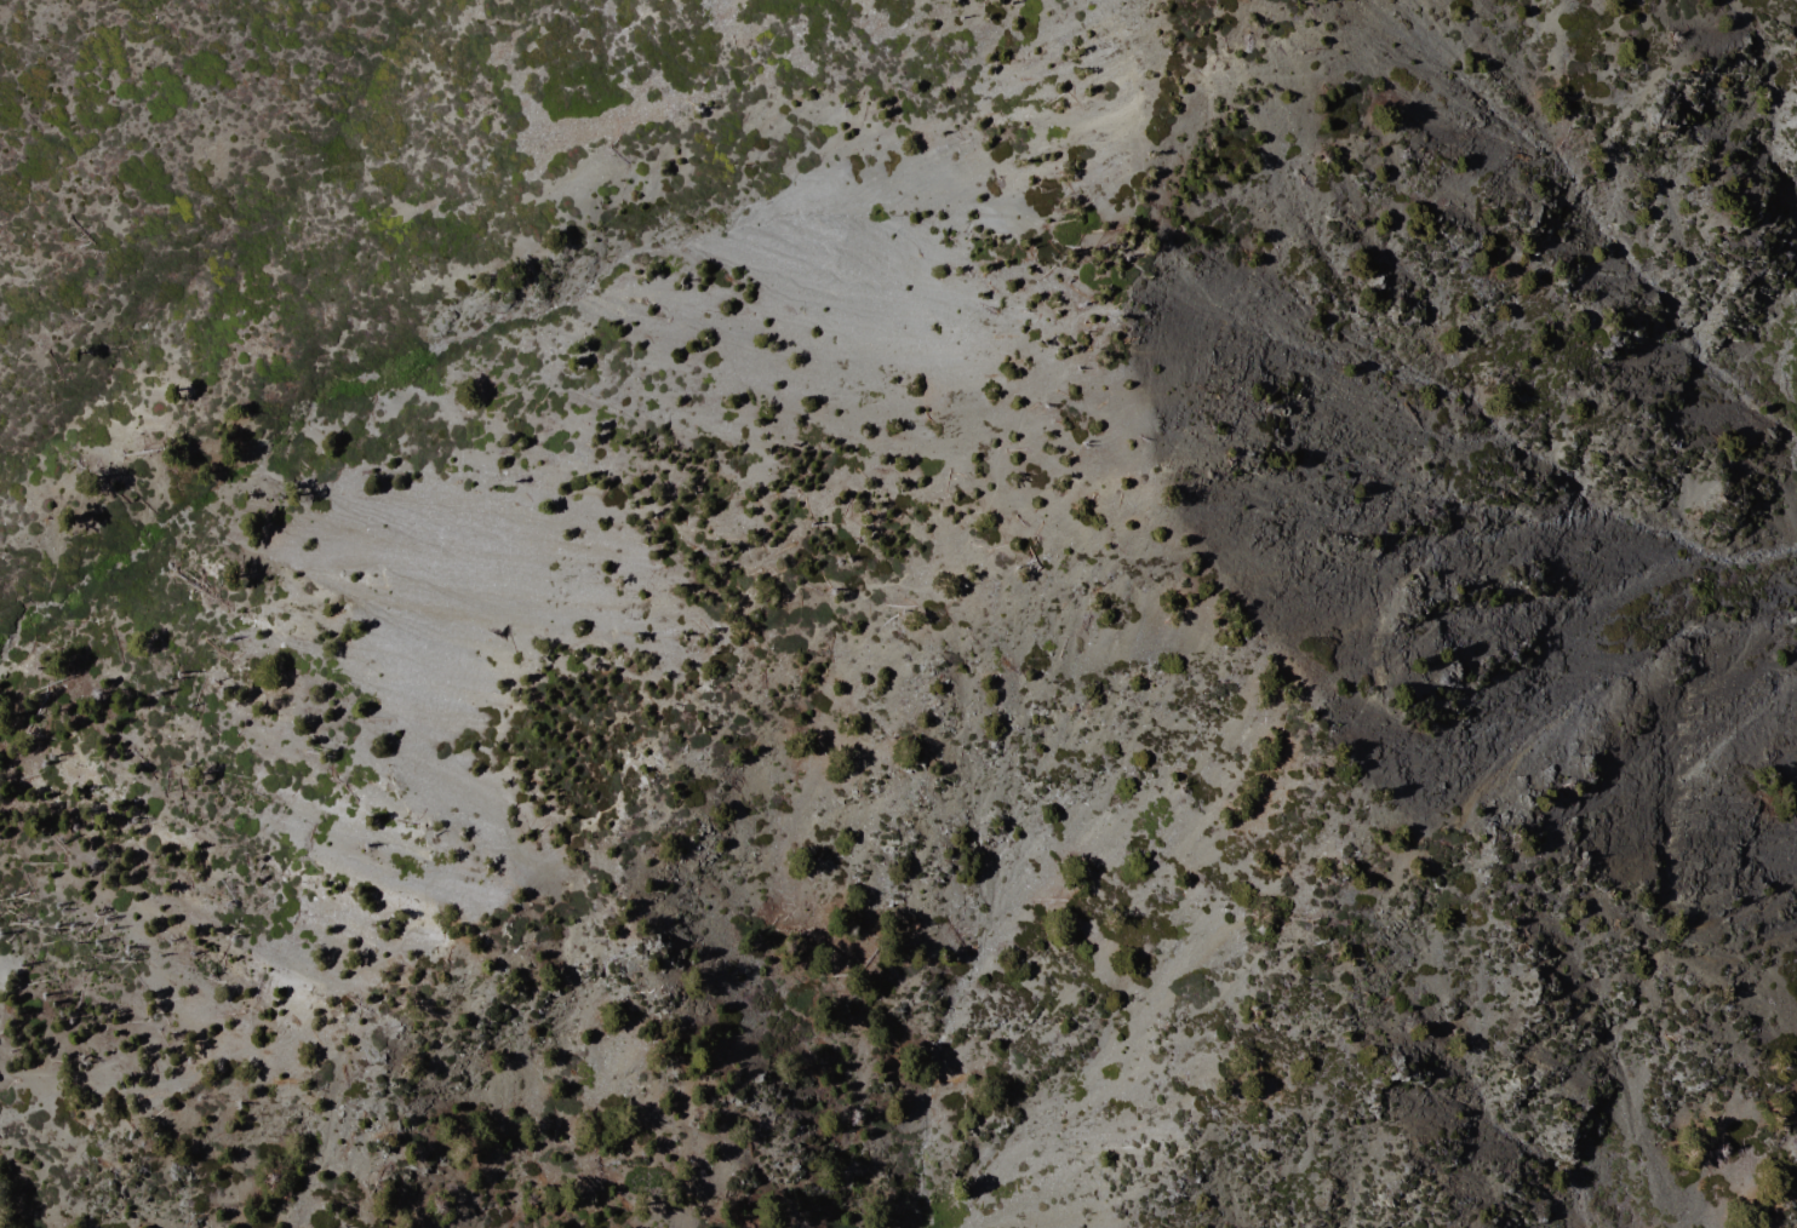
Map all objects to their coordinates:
road: (1162, 56)
road: (711, 676)

